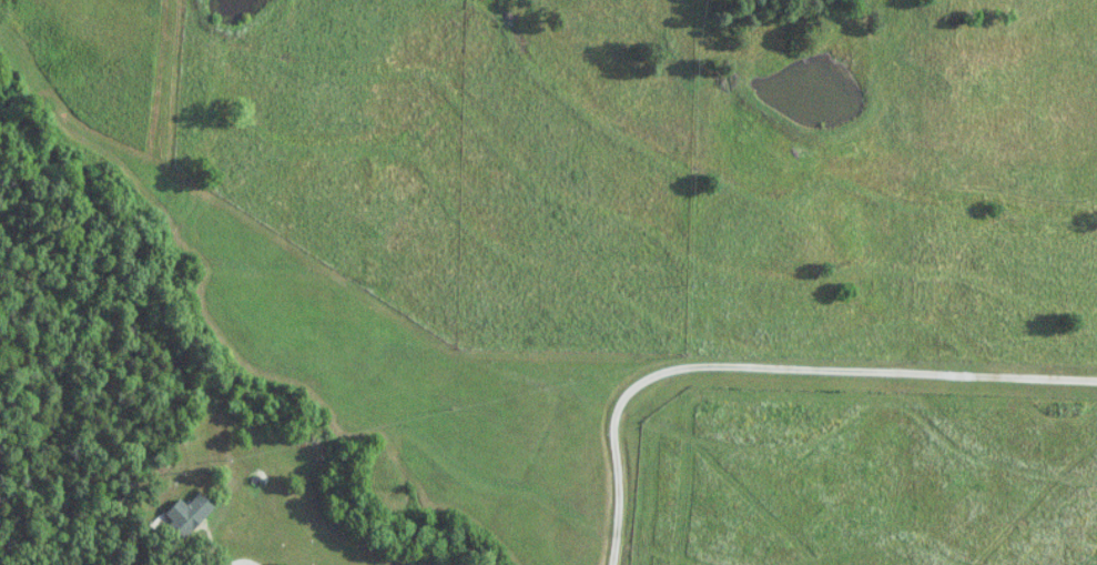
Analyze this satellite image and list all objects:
road: (772, 365)
building: (192, 514)
road: (253, 555)
building: (167, 563)

